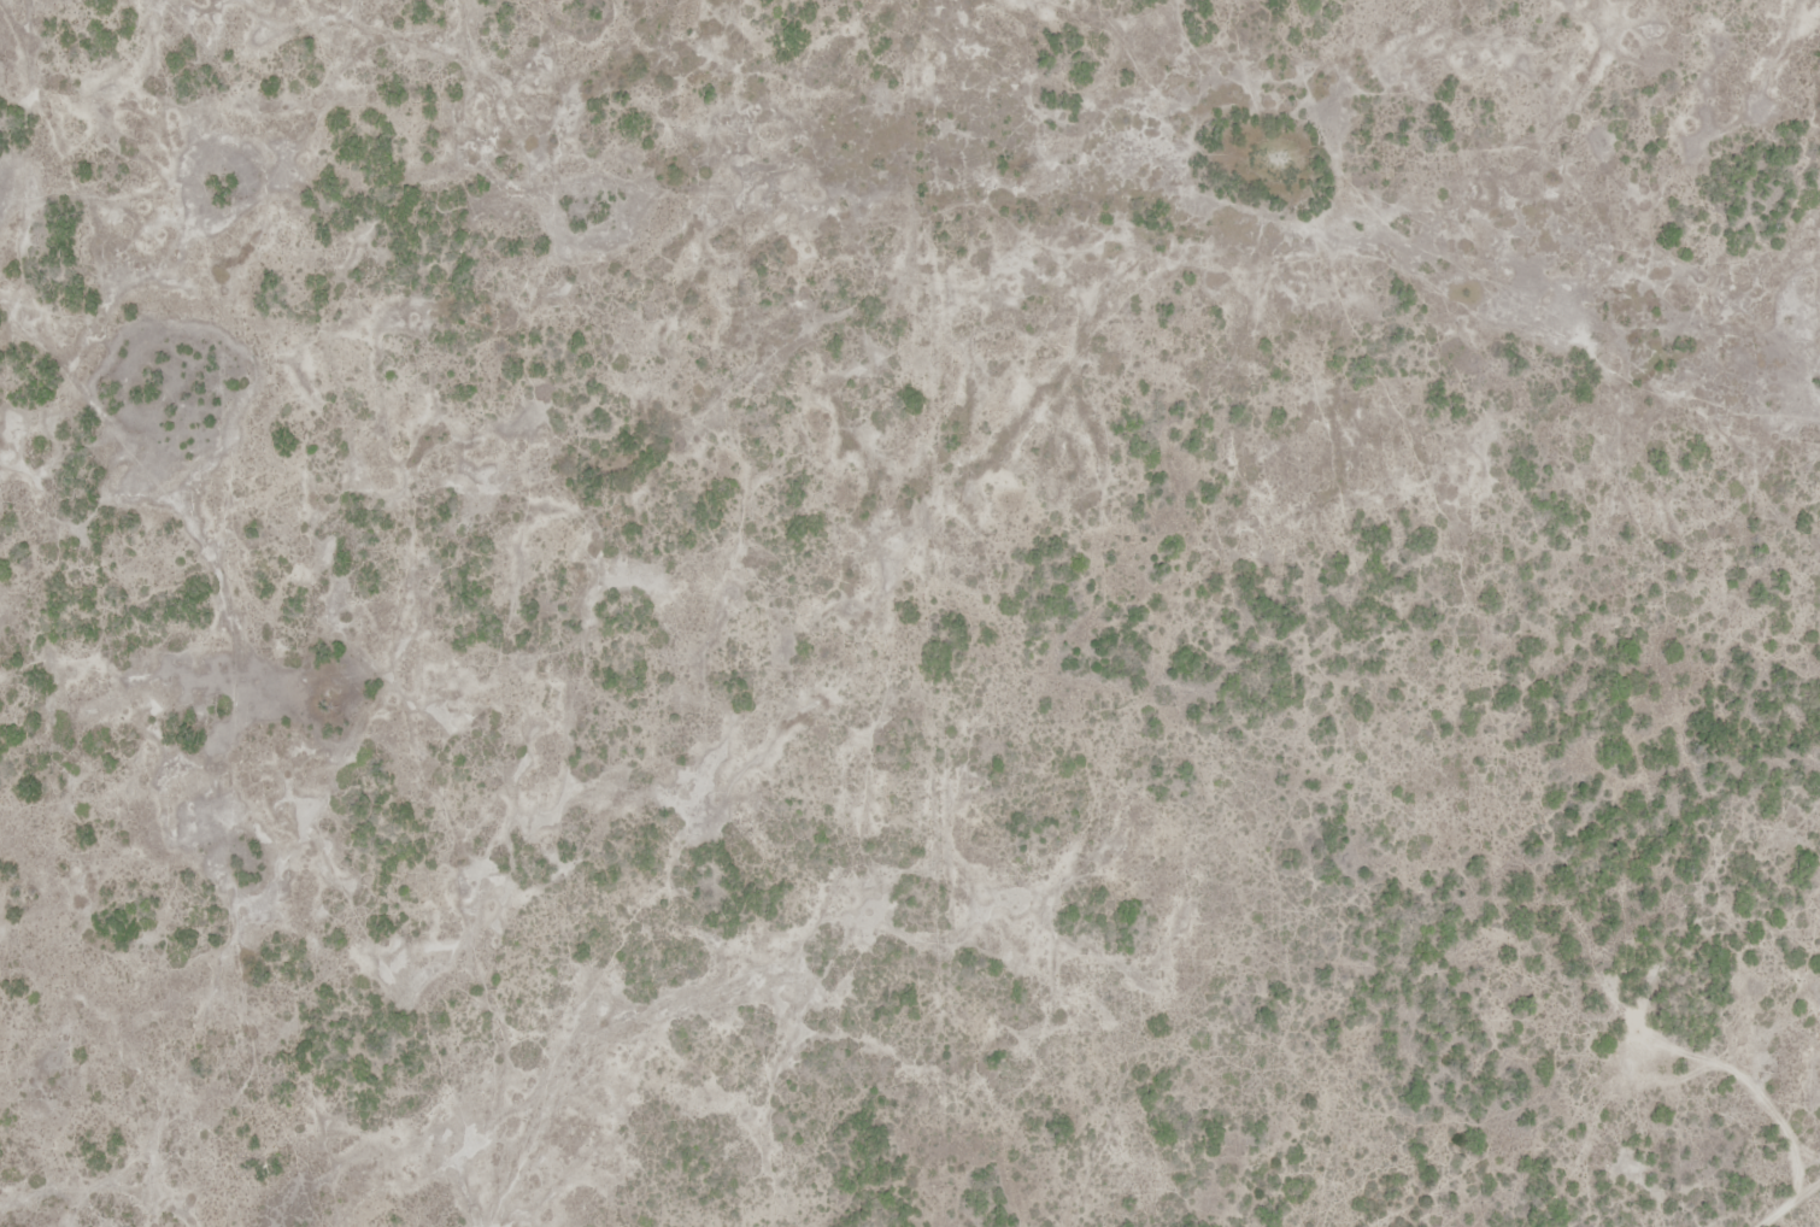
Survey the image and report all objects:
road: (1795, 1203)

